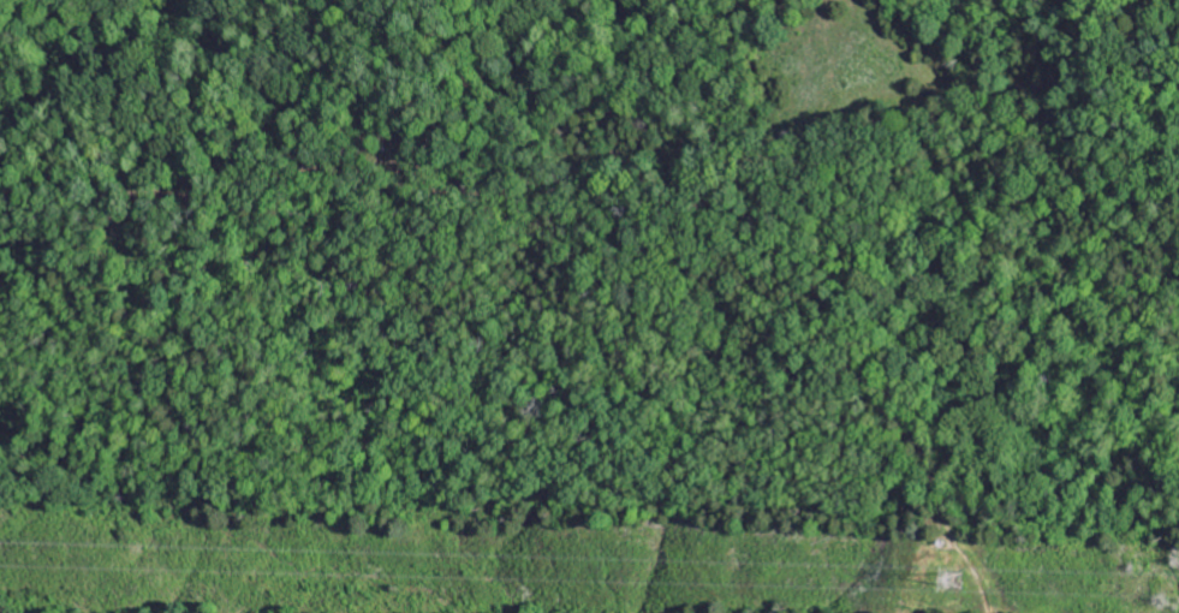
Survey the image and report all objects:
power tower: (954, 581)

